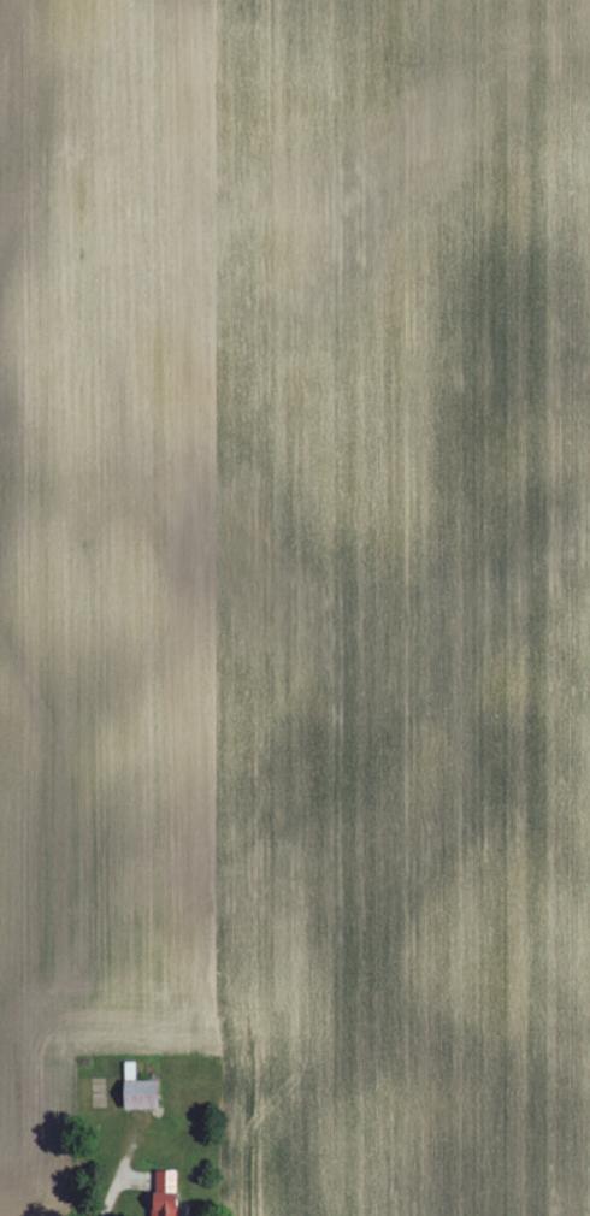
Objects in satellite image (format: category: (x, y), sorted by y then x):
road: (124, 1176)

